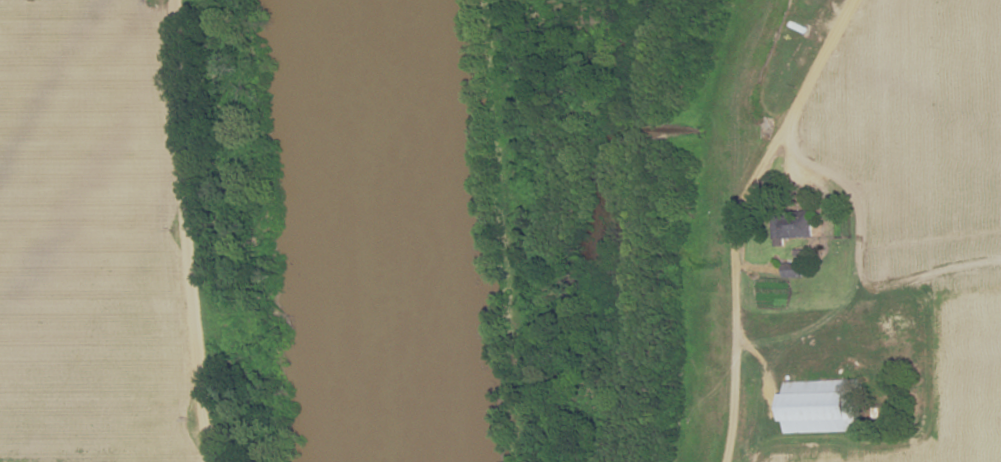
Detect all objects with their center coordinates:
road: (728, 105)
road: (845, 203)
road: (737, 218)
building: (788, 223)
road: (183, 231)
river: (387, 231)
building: (788, 271)
building: (815, 405)

